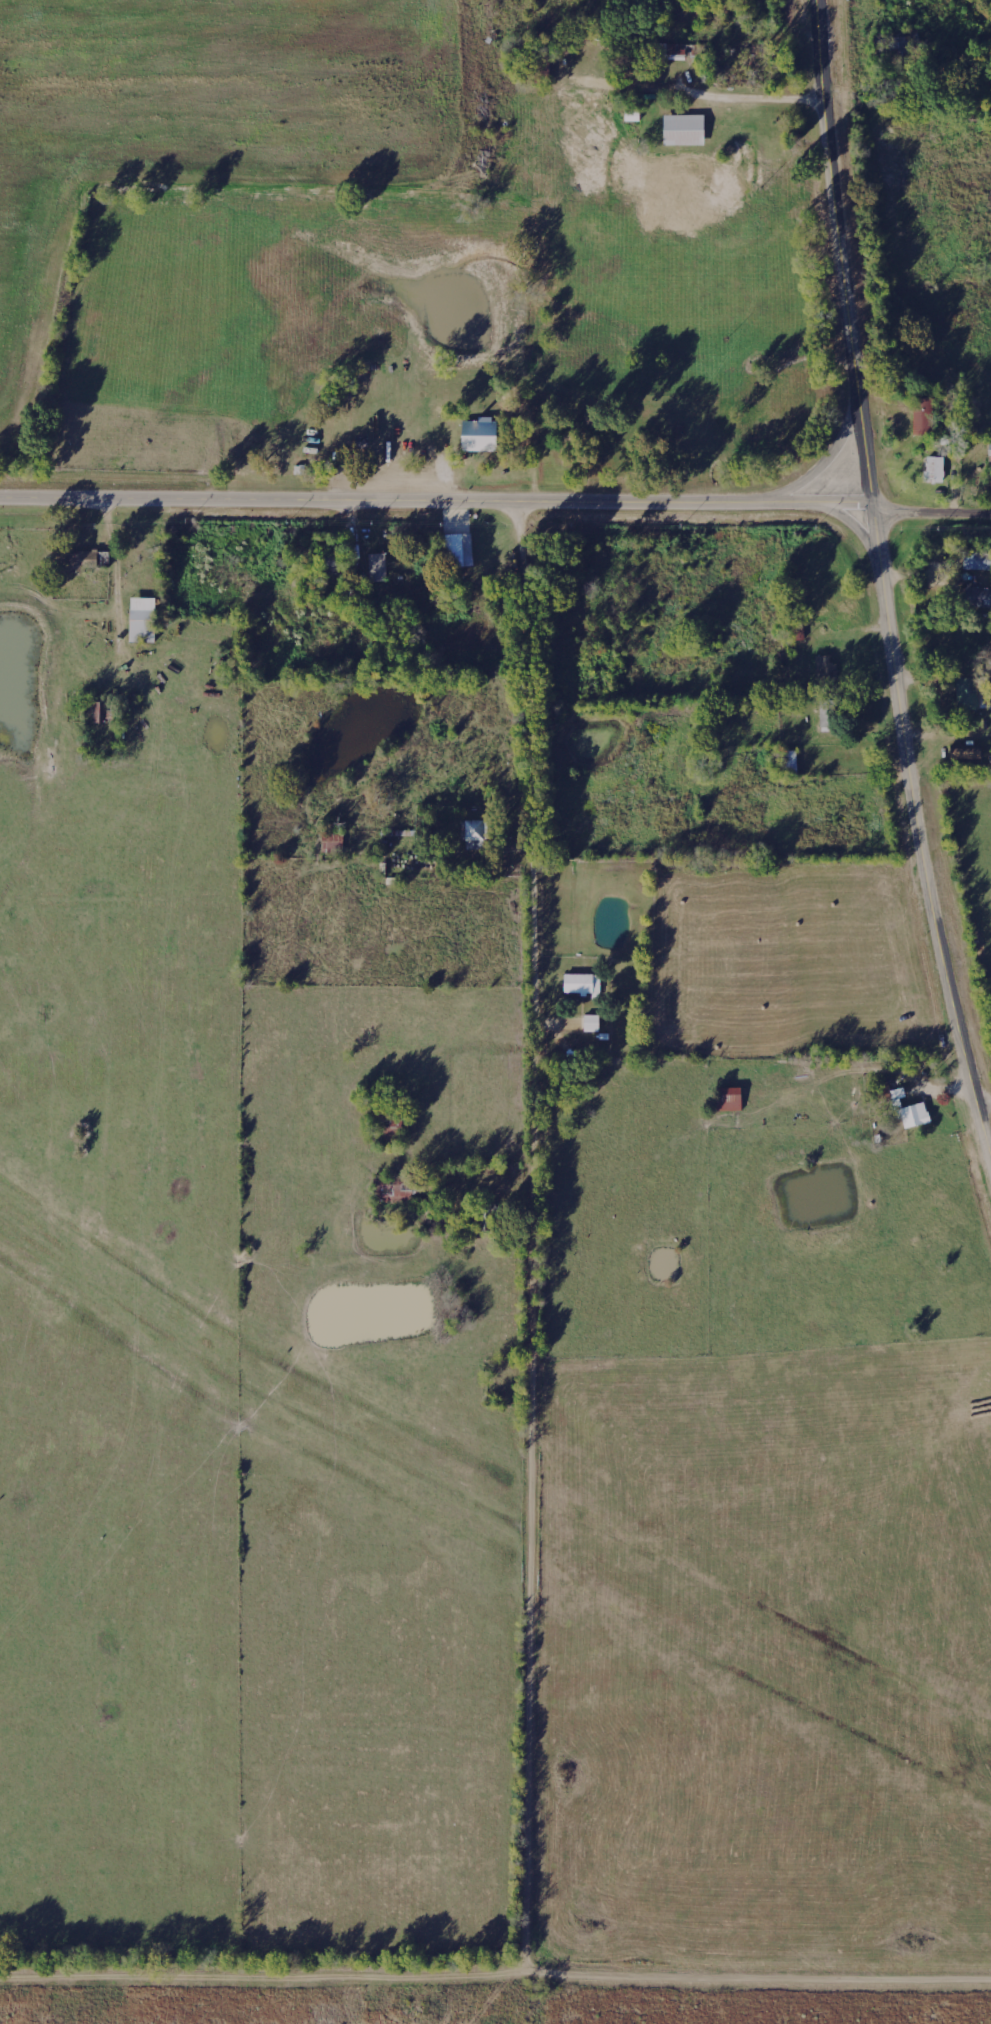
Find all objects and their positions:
building: (671, 51)
building: (684, 130)
building: (479, 435)
road: (833, 453)
building: (934, 469)
road: (435, 504)
road: (930, 514)
building: (459, 549)
building: (91, 559)
building: (977, 561)
building: (378, 567)
road: (881, 570)
building: (143, 620)
building: (967, 694)
building: (101, 713)
building: (475, 835)
building: (582, 985)
building: (591, 1024)
building: (729, 1099)
building: (390, 1188)
road: (540, 1239)
road: (495, 1977)

